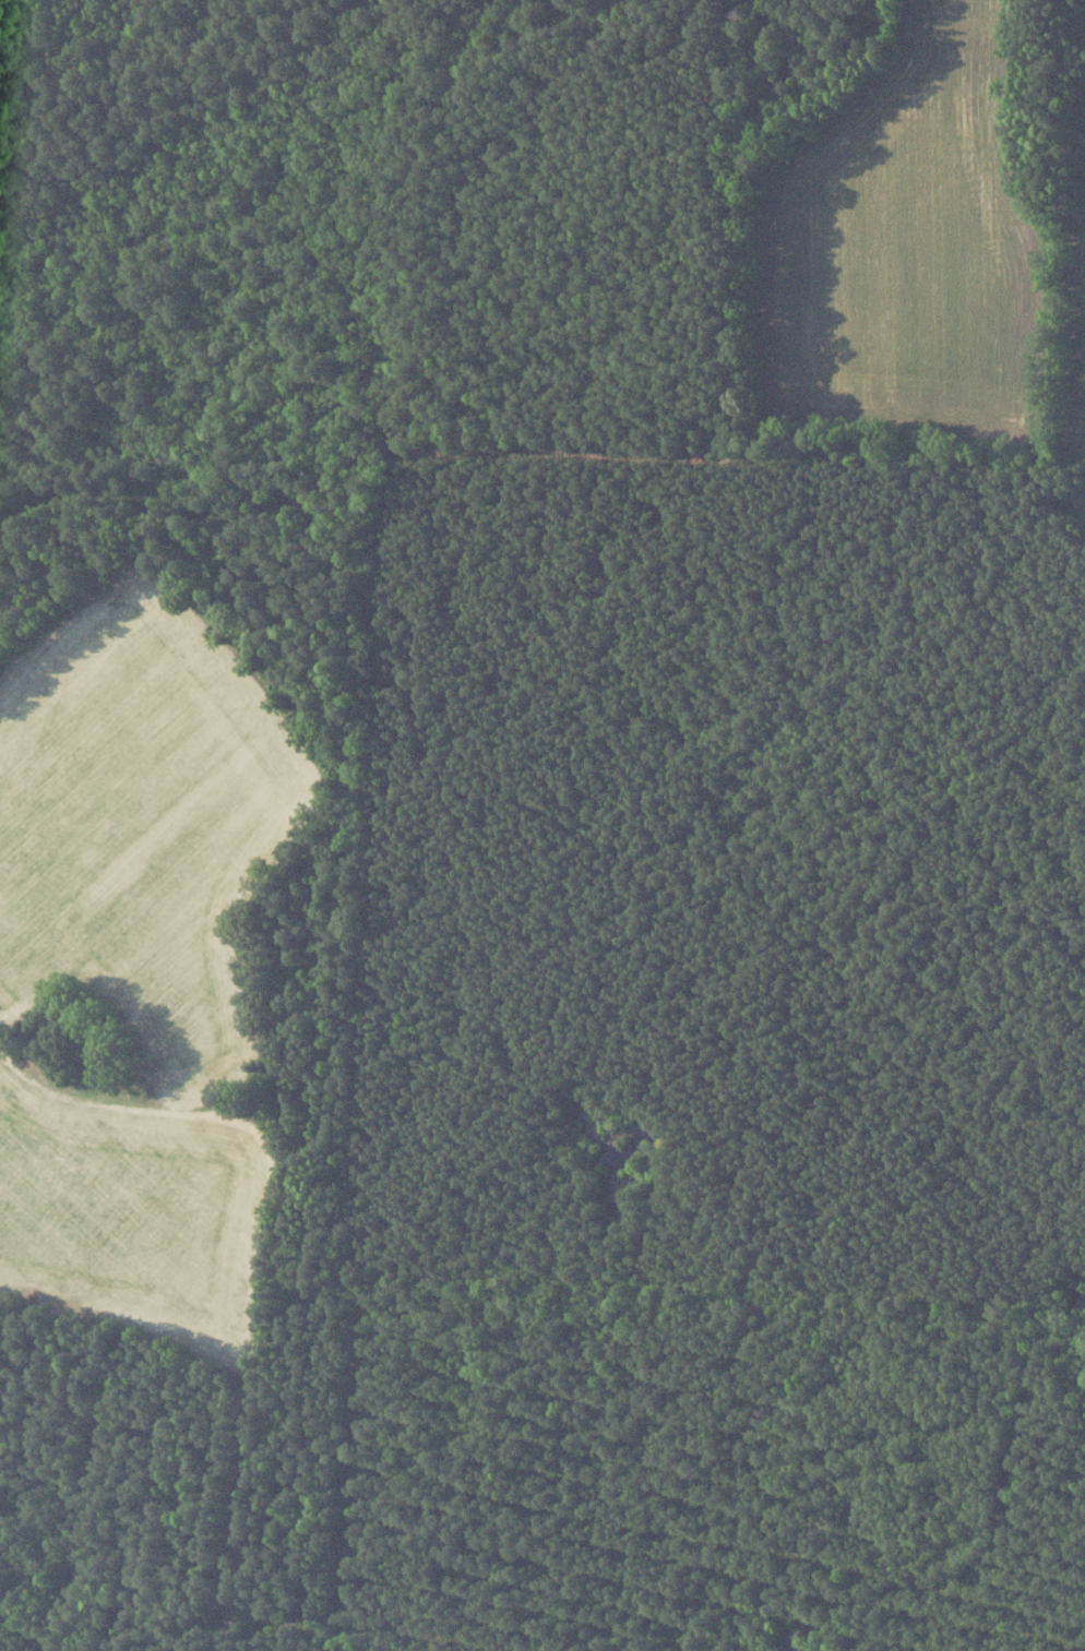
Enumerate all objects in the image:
crop: (920, 246)
crop: (1080, 502)
crop: (143, 819)
building: (57, 1017)
building: (116, 1062)
road: (266, 1193)
crop: (127, 1216)

